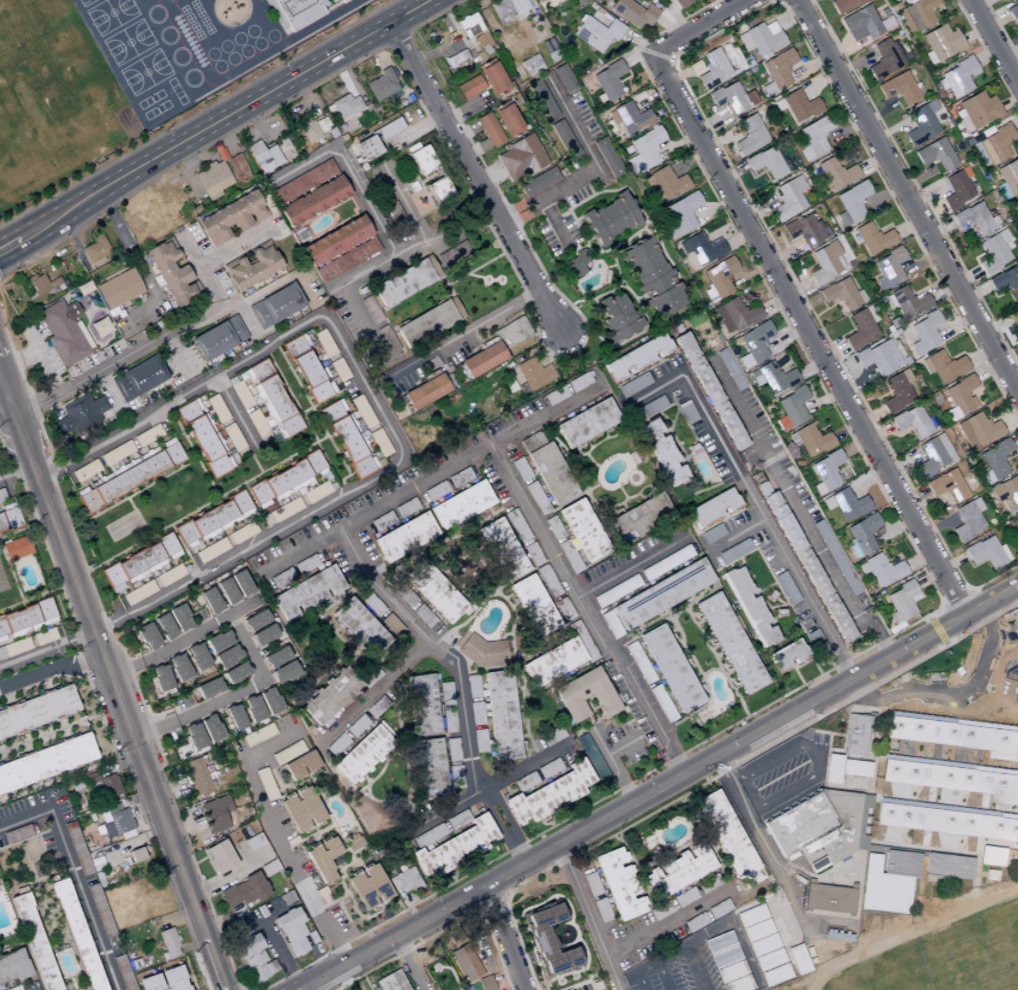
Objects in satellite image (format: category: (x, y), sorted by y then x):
building: (342, 1)
building: (681, 3)
building: (843, 4)
building: (509, 9)
building: (297, 11)
building: (632, 12)
building: (918, 13)
building: (1013, 14)
building: (860, 24)
building: (472, 29)
road: (702, 30)
building: (596, 34)
building: (760, 39)
road: (994, 43)
building: (940, 44)
park: (125, 45)
park: (201, 52)
building: (886, 58)
road: (246, 65)
building: (531, 65)
building: (712, 69)
building: (778, 69)
building: (563, 78)
building: (957, 78)
building: (494, 79)
building: (608, 81)
building: (381, 85)
building: (469, 87)
building: (898, 88)
building: (732, 98)
park: (50, 99)
building: (541, 99)
building: (346, 106)
building: (977, 110)
road: (222, 117)
building: (629, 118)
building: (508, 121)
park: (128, 123)
building: (320, 123)
building: (921, 124)
building: (389, 128)
building: (489, 130)
building: (308, 131)
building: (750, 135)
building: (814, 137)
building: (565, 140)
building: (993, 146)
building: (367, 148)
building: (644, 151)
building: (935, 154)
building: (264, 157)
building: (520, 158)
building: (606, 158)
building: (421, 160)
building: (766, 163)
building: (237, 168)
road: (595, 168)
building: (836, 174)
road: (474, 176)
building: (1009, 176)
building: (212, 179)
building: (538, 182)
building: (303, 183)
building: (666, 183)
building: (957, 189)
building: (438, 191)
road: (401, 195)
road: (907, 198)
building: (788, 199)
building: (314, 201)
road: (368, 202)
building: (851, 203)
building: (1017, 209)
building: (681, 214)
building: (230, 218)
building: (610, 219)
building: (974, 219)
road: (555, 223)
road: (421, 230)
building: (804, 231)
road: (445, 232)
building: (873, 238)
building: (335, 241)
road: (9, 243)
building: (700, 249)
building: (95, 250)
building: (993, 252)
building: (452, 254)
road: (135, 260)
building: (824, 263)
building: (574, 265)
building: (647, 267)
building: (252, 268)
building: (889, 269)
building: (171, 273)
building: (718, 279)
building: (405, 281)
building: (1005, 281)
building: (42, 284)
building: (118, 289)
building: (841, 295)
building: (666, 301)
building: (907, 302)
building: (275, 306)
building: (370, 310)
building: (735, 315)
building: (617, 318)
building: (429, 322)
road: (368, 326)
building: (100, 327)
building: (861, 328)
building: (1016, 329)
building: (63, 332)
building: (511, 333)
building: (924, 333)
road: (461, 334)
building: (218, 338)
road: (160, 340)
building: (387, 341)
road: (812, 341)
building: (323, 343)
building: (754, 343)
road: (178, 353)
building: (636, 358)
building: (878, 358)
building: (481, 360)
building: (783, 366)
building: (943, 366)
building: (338, 370)
building: (309, 371)
building: (533, 375)
building: (138, 378)
building: (772, 378)
building: (578, 382)
building: (632, 384)
road: (108, 390)
building: (710, 391)
building: (897, 391)
building: (425, 392)
road: (371, 394)
building: (554, 395)
building: (959, 397)
road: (4, 398)
building: (264, 401)
building: (216, 408)
building: (791, 408)
road: (235, 410)
building: (641, 412)
building: (79, 415)
building: (911, 422)
building: (586, 423)
building: (977, 430)
building: (232, 437)
building: (204, 438)
building: (348, 440)
building: (810, 440)
building: (379, 443)
building: (662, 453)
building: (934, 455)
building: (994, 461)
building: (89, 468)
building: (546, 468)
building: (520, 469)
road: (49, 470)
road: (16, 471)
building: (826, 472)
building: (131, 476)
building: (459, 477)
building: (285, 480)
road: (430, 480)
building: (946, 485)
building: (315, 492)
building: (2, 494)
building: (1006, 494)
road: (753, 497)
building: (536, 499)
road: (798, 502)
building: (845, 504)
building: (460, 505)
building: (711, 508)
building: (282, 511)
building: (10, 518)
building: (636, 518)
building: (212, 520)
building: (967, 520)
building: (1016, 520)
building: (516, 526)
building: (553, 528)
road: (18, 530)
building: (582, 530)
road: (734, 532)
building: (712, 534)
building: (862, 535)
building: (404, 537)
building: (1017, 537)
building: (225, 542)
building: (18, 548)
building: (501, 549)
building: (985, 553)
building: (569, 557)
building: (665, 562)
building: (139, 563)
building: (840, 565)
building: (306, 566)
building: (808, 567)
road: (629, 569)
building: (880, 569)
road: (11, 572)
building: (286, 574)
building: (169, 575)
building: (233, 587)
building: (785, 588)
building: (138, 592)
building: (307, 593)
building: (435, 593)
road: (29, 598)
building: (654, 598)
building: (209, 601)
building: (901, 602)
building: (532, 605)
building: (748, 607)
road: (585, 613)
building: (422, 615)
building: (179, 617)
building: (28, 618)
building: (255, 620)
road: (109, 623)
building: (164, 626)
building: (359, 626)
building: (263, 635)
building: (45, 636)
building: (147, 636)
building: (218, 641)
building: (729, 643)
building: (15, 647)
road: (1002, 647)
road: (46, 649)
building: (479, 651)
road: (250, 652)
building: (786, 656)
building: (197, 657)
building: (227, 657)
building: (275, 657)
building: (559, 657)
building: (178, 667)
road: (50, 668)
building: (641, 668)
building: (670, 668)
building: (235, 673)
building: (285, 673)
building: (1011, 674)
building: (160, 677)
road: (112, 682)
road: (459, 682)
parking lot: (943, 682)
building: (1009, 683)
building: (472, 686)
building: (1006, 686)
building: (208, 688)
road: (374, 691)
building: (445, 694)
building: (1013, 694)
building: (584, 695)
building: (1016, 695)
building: (330, 696)
road: (950, 699)
building: (270, 701)
building: (421, 705)
building: (253, 708)
building: (36, 710)
road: (1005, 710)
building: (1005, 711)
building: (475, 713)
road: (101, 714)
building: (234, 717)
building: (500, 718)
road: (952, 720)
building: (448, 721)
building: (954, 721)
building: (210, 728)
road: (50, 732)
building: (258, 735)
building: (855, 735)
building: (952, 735)
building: (194, 736)
building: (479, 741)
building: (336, 745)
building: (364, 753)
road: (813, 753)
building: (590, 756)
building: (279, 757)
building: (44, 762)
road: (120, 764)
road: (949, 764)
building: (955, 764)
building: (300, 765)
building: (429, 768)
building: (548, 768)
building: (855, 768)
building: (832, 769)
building: (198, 776)
building: (93, 777)
road: (641, 777)
parking lot: (779, 777)
building: (950, 778)
building: (454, 780)
building: (524, 782)
road: (931, 784)
building: (77, 785)
building: (111, 787)
road: (660, 787)
road: (489, 788)
road: (984, 790)
building: (549, 794)
road: (81, 798)
building: (869, 799)
building: (911, 803)
building: (77, 807)
road: (946, 807)
building: (301, 809)
road: (144, 811)
building: (216, 813)
building: (117, 821)
building: (946, 821)
building: (841, 822)
building: (799, 824)
building: (440, 829)
road: (759, 831)
building: (19, 833)
road: (273, 836)
road: (28, 837)
building: (726, 838)
building: (825, 838)
road: (134, 839)
building: (253, 842)
building: (353, 843)
road: (998, 843)
building: (79, 848)
building: (454, 848)
road: (924, 849)
building: (932, 849)
road: (44, 853)
building: (95, 855)
building: (136, 855)
building: (992, 855)
building: (1013, 856)
building: (219, 857)
building: (323, 859)
building: (901, 863)
building: (818, 864)
building: (948, 866)
building: (679, 870)
building: (991, 872)
road: (52, 873)
road: (72, 874)
building: (991, 878)
building: (100, 879)
building: (809, 880)
building: (403, 881)
building: (618, 884)
building: (852, 886)
building: (368, 887)
building: (243, 891)
road: (39, 893)
building: (684, 897)
building: (829, 898)
building: (277, 904)
building: (718, 909)
building: (101, 910)
building: (660, 910)
building: (806, 910)
road: (48, 912)
building: (751, 915)
building: (849, 915)
road: (175, 916)
road: (589, 917)
road: (667, 921)
building: (694, 922)
building: (757, 930)
building: (291, 932)
road: (56, 934)
building: (79, 935)
road: (504, 938)
building: (35, 941)
building: (548, 941)
building: (169, 943)
building: (763, 944)
building: (721, 949)
track: (944, 956)
building: (254, 958)
park: (715, 958)
building: (769, 959)
building: (798, 959)
building: (136, 963)
road: (408, 963)
building: (465, 963)
building: (15, 966)
road: (188, 971)
building: (125, 973)
park: (654, 974)
building: (775, 975)
building: (732, 977)
building: (173, 978)
building: (391, 982)
road: (72, 983)
building: (149, 983)
building: (485, 983)
building: (16, 988)
road: (83, 988)

